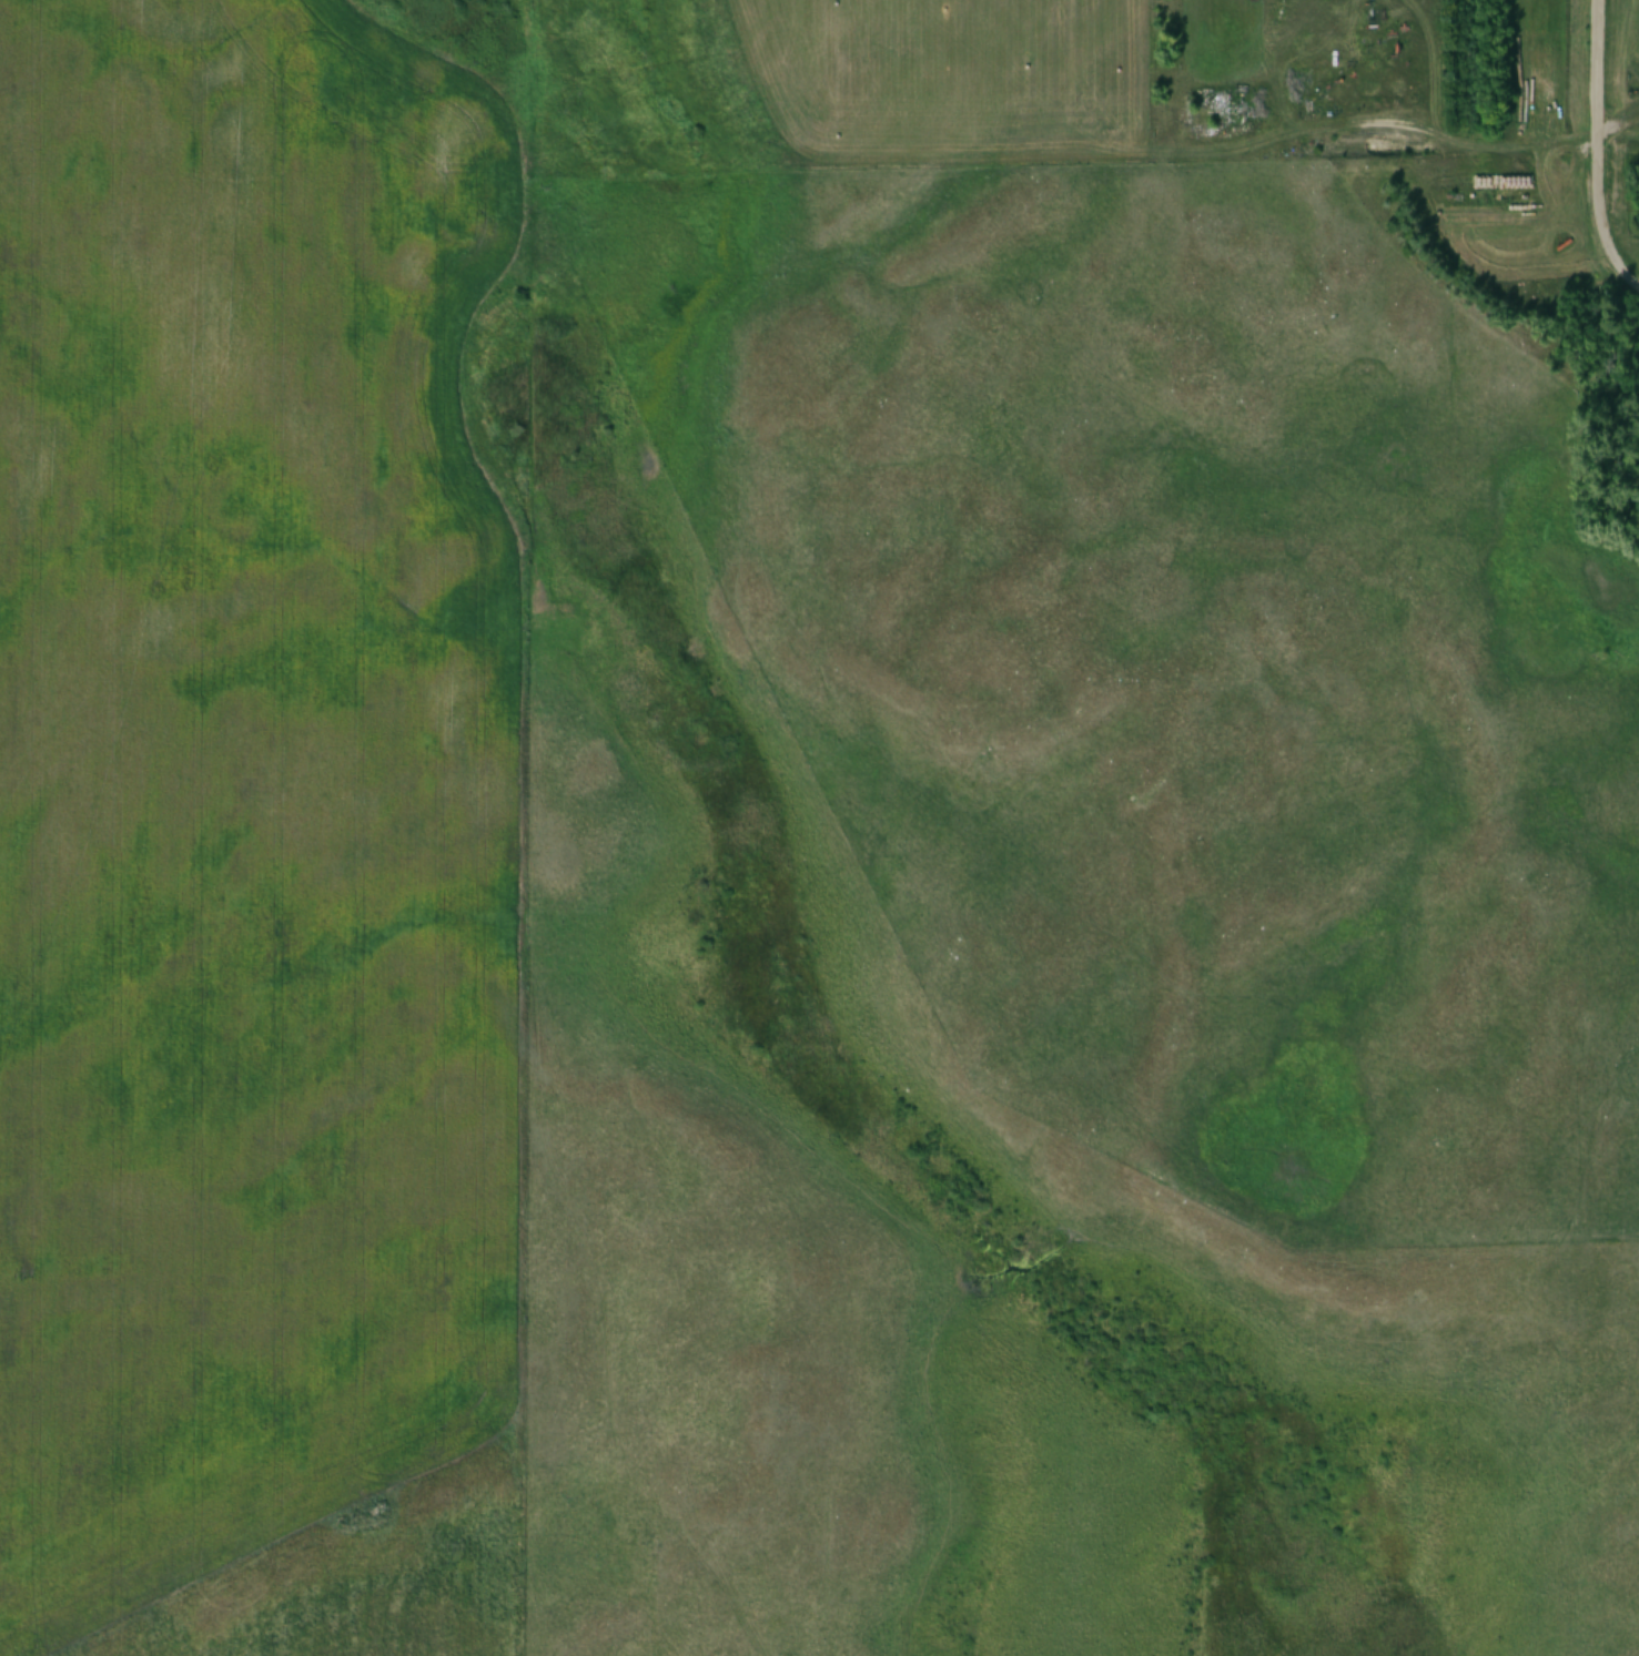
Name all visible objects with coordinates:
road: (1598, 134)
road: (1628, 276)

